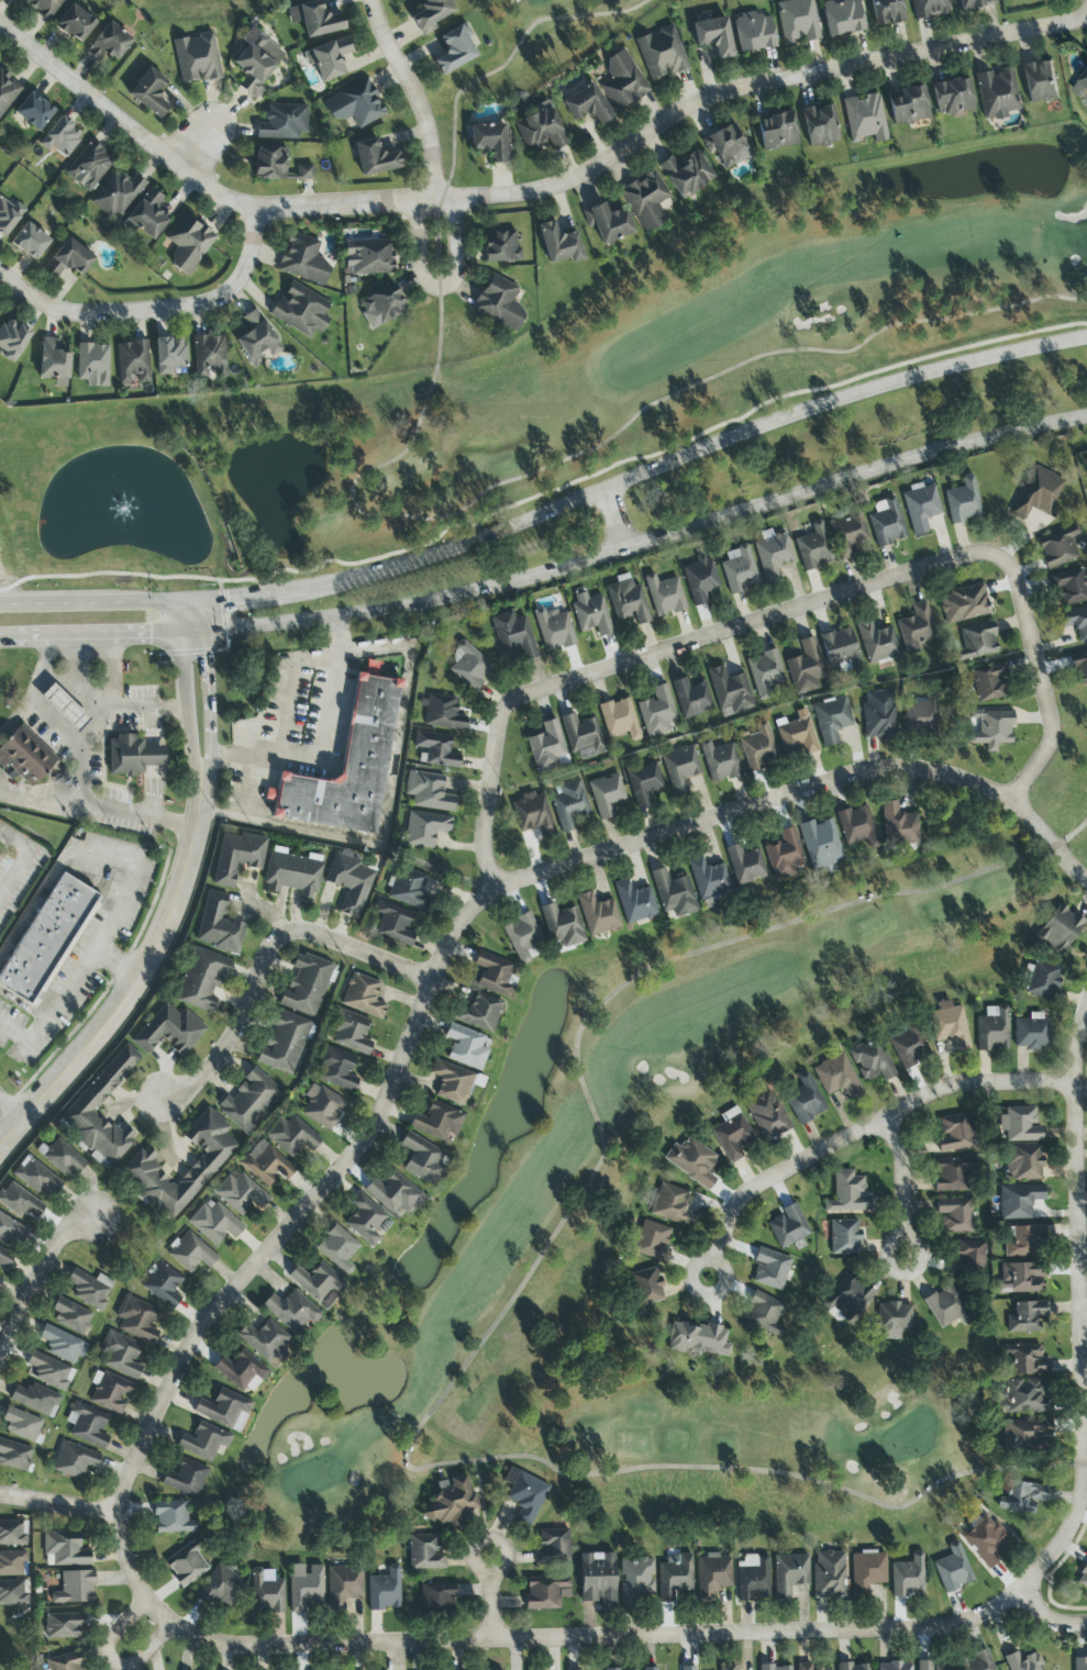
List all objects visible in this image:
building: (975, 3)
building: (44, 7)
building: (930, 8)
building: (886, 12)
building: (432, 13)
building: (842, 18)
building: (314, 20)
building: (797, 21)
building: (75, 24)
building: (753, 32)
building: (713, 36)
building: (108, 43)
building: (455, 49)
park: (536, 52)
building: (662, 54)
building: (197, 58)
building: (329, 58)
building: (622, 81)
building: (1040, 81)
building: (1082, 88)
building: (7, 91)
building: (148, 91)
building: (997, 93)
road: (415, 96)
building: (952, 97)
building: (355, 104)
building: (587, 105)
building: (909, 107)
building: (33, 112)
building: (865, 119)
building: (282, 122)
building: (820, 125)
building: (541, 130)
building: (777, 132)
building: (60, 137)
road: (200, 142)
building: (490, 142)
building: (725, 145)
building: (375, 158)
building: (269, 164)
building: (89, 166)
building: (304, 172)
building: (686, 175)
road: (530, 192)
building: (118, 194)
building: (646, 201)
building: (147, 214)
building: (8, 215)
building: (608, 223)
building: (30, 242)
building: (188, 244)
building: (558, 244)
building: (500, 247)
building: (368, 257)
building: (68, 259)
building: (303, 260)
road: (441, 288)
building: (499, 303)
building: (381, 307)
road: (155, 309)
building: (301, 311)
park: (688, 337)
building: (12, 339)
building: (257, 341)
building: (209, 353)
building: (169, 355)
building: (53, 360)
building: (132, 363)
building: (92, 365)
road: (697, 459)
building: (1038, 493)
building: (963, 501)
building: (920, 506)
fountain: (113, 512)
building: (886, 522)
road: (619, 523)
building: (848, 533)
building: (1058, 547)
building: (813, 548)
building: (773, 554)
building: (739, 570)
road: (552, 574)
building: (700, 579)
building: (1069, 588)
building: (664, 595)
road: (246, 597)
traffic signals: (229, 600)
building: (626, 600)
road: (89, 603)
building: (963, 604)
building: (591, 614)
building: (1075, 622)
road: (756, 625)
building: (917, 627)
building: (554, 630)
traffic signals: (149, 633)
building: (513, 635)
building: (876, 642)
building: (977, 642)
building: (841, 649)
traffic signals: (204, 658)
building: (469, 666)
building: (1079, 667)
building: (806, 668)
road: (111, 671)
building: (765, 672)
road: (288, 682)
building: (990, 682)
gas station: (73, 684)
road: (206, 691)
building: (730, 691)
road: (187, 692)
road: (1047, 692)
road: (81, 694)
building: (691, 698)
building: (67, 708)
road: (143, 709)
building: (657, 712)
building: (443, 713)
building: (878, 714)
building: (921, 714)
building: (832, 719)
building: (619, 720)
road: (53, 723)
building: (991, 728)
building: (796, 735)
building: (583, 736)
road: (320, 742)
building: (547, 748)
building: (759, 748)
building: (436, 749)
building: (134, 756)
building: (26, 757)
building: (720, 761)
road: (154, 764)
building: (351, 768)
building: (680, 768)
road: (251, 773)
building: (644, 783)
building: (430, 792)
road: (805, 792)
building: (607, 794)
road: (387, 802)
building: (569, 804)
road: (491, 805)
road: (98, 806)
building: (533, 813)
building: (899, 825)
building: (857, 827)
building: (425, 828)
building: (820, 844)
building: (784, 856)
building: (237, 857)
road: (23, 860)
building: (745, 865)
building: (295, 875)
building: (708, 878)
building: (352, 882)
road: (130, 884)
building: (410, 889)
building: (674, 894)
building: (634, 902)
building: (598, 915)
building: (393, 924)
building: (218, 926)
building: (562, 926)
building: (1058, 931)
building: (523, 937)
building: (48, 938)
road: (269, 959)
road: (119, 962)
building: (493, 976)
building: (201, 980)
building: (1041, 980)
road: (135, 981)
building: (307, 986)
building: (363, 997)
road: (22, 1005)
building: (480, 1013)
building: (949, 1025)
building: (991, 1028)
building: (168, 1031)
building: (1031, 1032)
building: (351, 1033)
building: (284, 1043)
building: (907, 1045)
building: (465, 1047)
building: (870, 1060)
building: (334, 1068)
building: (835, 1076)
building: (453, 1082)
park: (625, 1082)
building: (102, 1084)
building: (805, 1099)
building: (249, 1100)
building: (322, 1106)
road: (11, 1109)
building: (766, 1114)
building: (436, 1122)
building: (1019, 1125)
road: (864, 1131)
building: (954, 1133)
building: (731, 1134)
building: (292, 1136)
building: (62, 1158)
building: (422, 1159)
building: (691, 1162)
building: (1023, 1162)
building: (264, 1164)
building: (140, 1170)
building: (953, 1173)
building: (35, 1177)
road: (901, 1185)
building: (392, 1192)
building: (847, 1193)
building: (240, 1194)
building: (1018, 1201)
building: (20, 1202)
building: (672, 1205)
building: (954, 1215)
building: (366, 1220)
building: (214, 1223)
building: (787, 1226)
building: (11, 1231)
building: (844, 1237)
building: (653, 1240)
building: (1024, 1242)
road: (271, 1243)
building: (336, 1248)
building: (190, 1252)
building: (4, 1257)
building: (967, 1258)
building: (769, 1269)
road: (40, 1271)
building: (0, 1277)
building: (1021, 1278)
building: (163, 1284)
building: (318, 1284)
building: (647, 1287)
building: (89, 1289)
building: (846, 1298)
building: (945, 1307)
road: (1082, 1310)
building: (291, 1312)
building: (763, 1313)
building: (70, 1316)
building: (1025, 1317)
building: (136, 1320)
building: (892, 1320)
road: (1085, 1327)
building: (697, 1338)
building: (265, 1341)
building: (63, 1345)
building: (120, 1355)
building: (1027, 1360)
building: (48, 1371)
building: (242, 1372)
building: (109, 1392)
building: (1024, 1396)
building: (35, 1400)
building: (223, 1410)
building: (21, 1424)
building: (87, 1425)
building: (1024, 1434)
building: (202, 1441)
building: (14, 1456)
building: (73, 1460)
building: (185, 1479)
building: (524, 1494)
building: (1021, 1496)
building: (448, 1502)
road: (58, 1506)
building: (173, 1517)
building: (12, 1533)
building: (985, 1540)
building: (552, 1547)
building: (65, 1548)
building: (424, 1552)
building: (187, 1562)
building: (12, 1563)
building: (952, 1569)
building: (866, 1570)
building: (789, 1574)
building: (829, 1574)
building: (674, 1576)
building: (712, 1576)
building: (907, 1577)
building: (596, 1578)
building: (751, 1578)
building: (1083, 1578)
building: (635, 1580)
building: (304, 1585)
building: (221, 1586)
building: (343, 1586)
building: (75, 1588)
building: (385, 1590)
building: (266, 1592)
building: (544, 1592)
building: (436, 1596)
road: (493, 1600)
road: (1052, 1616)
building: (63, 1625)
road: (594, 1641)
building: (976, 1661)
building: (1023, 1661)
building: (63, 1662)
road: (111, 1662)
building: (1080, 1663)
building: (894, 1666)
building: (930, 1666)
building: (726, 1667)
building: (806, 1667)
building: (853, 1667)
building: (687, 1668)
building: (775, 1668)
building: (651, 1669)

